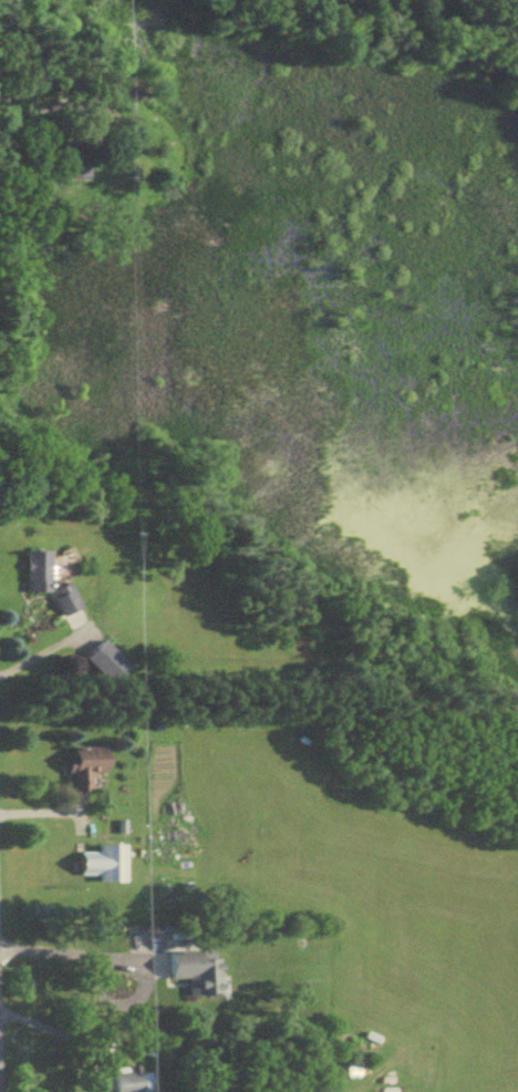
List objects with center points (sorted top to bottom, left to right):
building: (66, 154)
building: (33, 573)
building: (61, 600)
building: (80, 773)
building: (107, 864)
road: (70, 954)
building: (191, 973)
road: (97, 1038)
building: (126, 1082)

